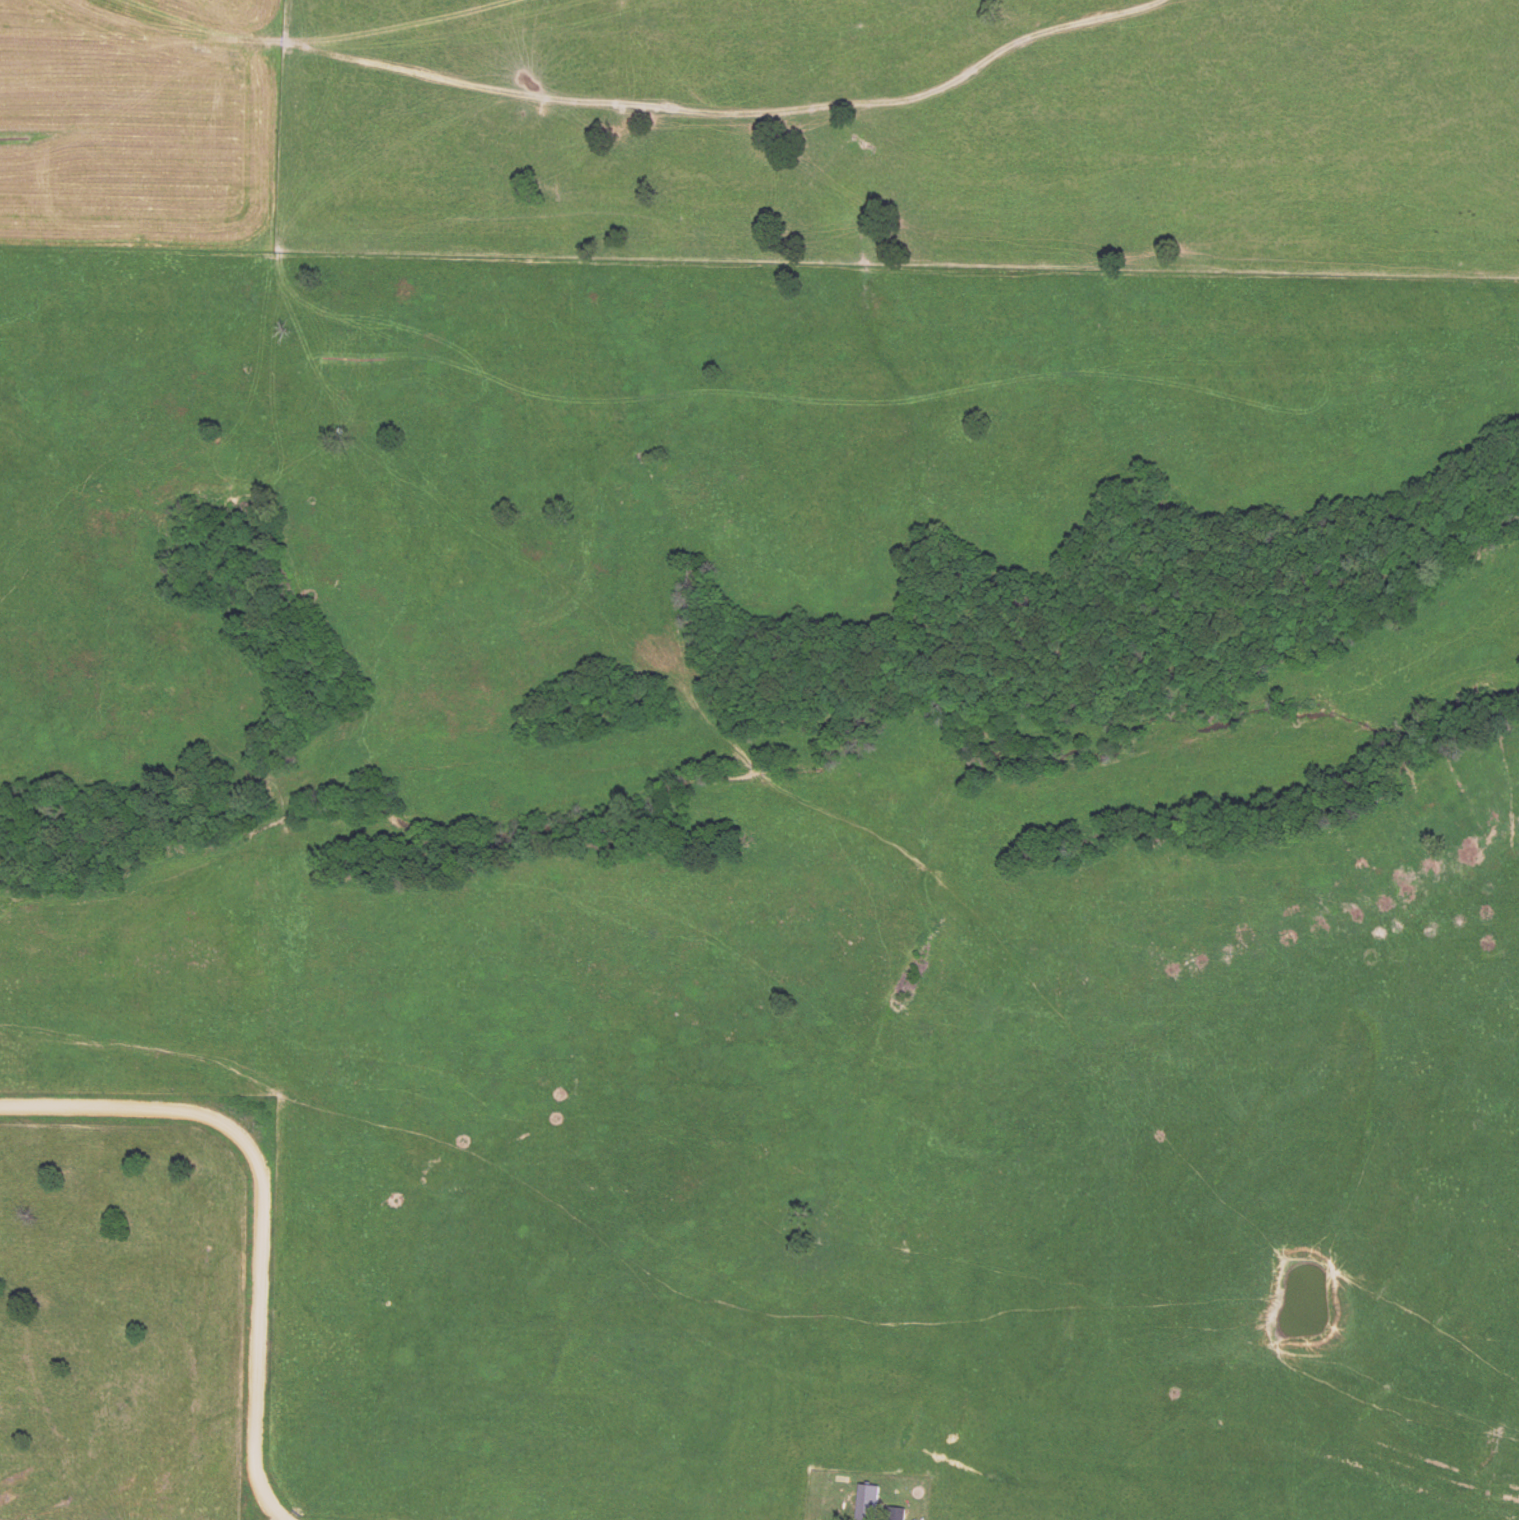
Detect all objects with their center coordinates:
road: (233, 1245)
building: (895, 1514)

